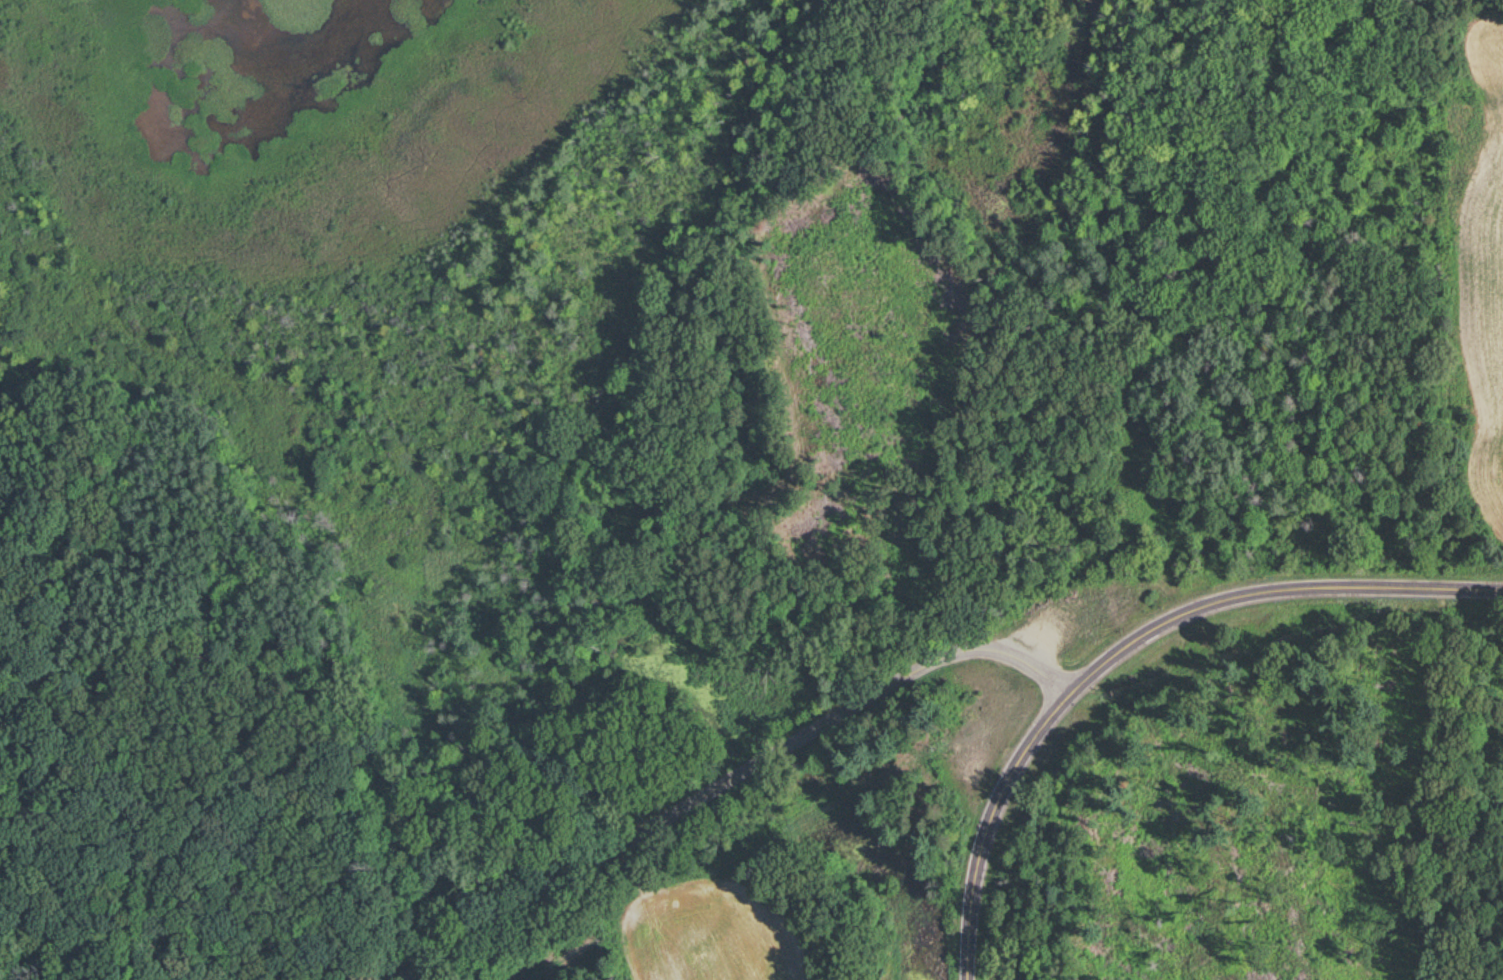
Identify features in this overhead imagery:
road: (1270, 594)
road: (1038, 626)
parking lot: (1045, 628)
road: (729, 782)
road: (987, 826)

